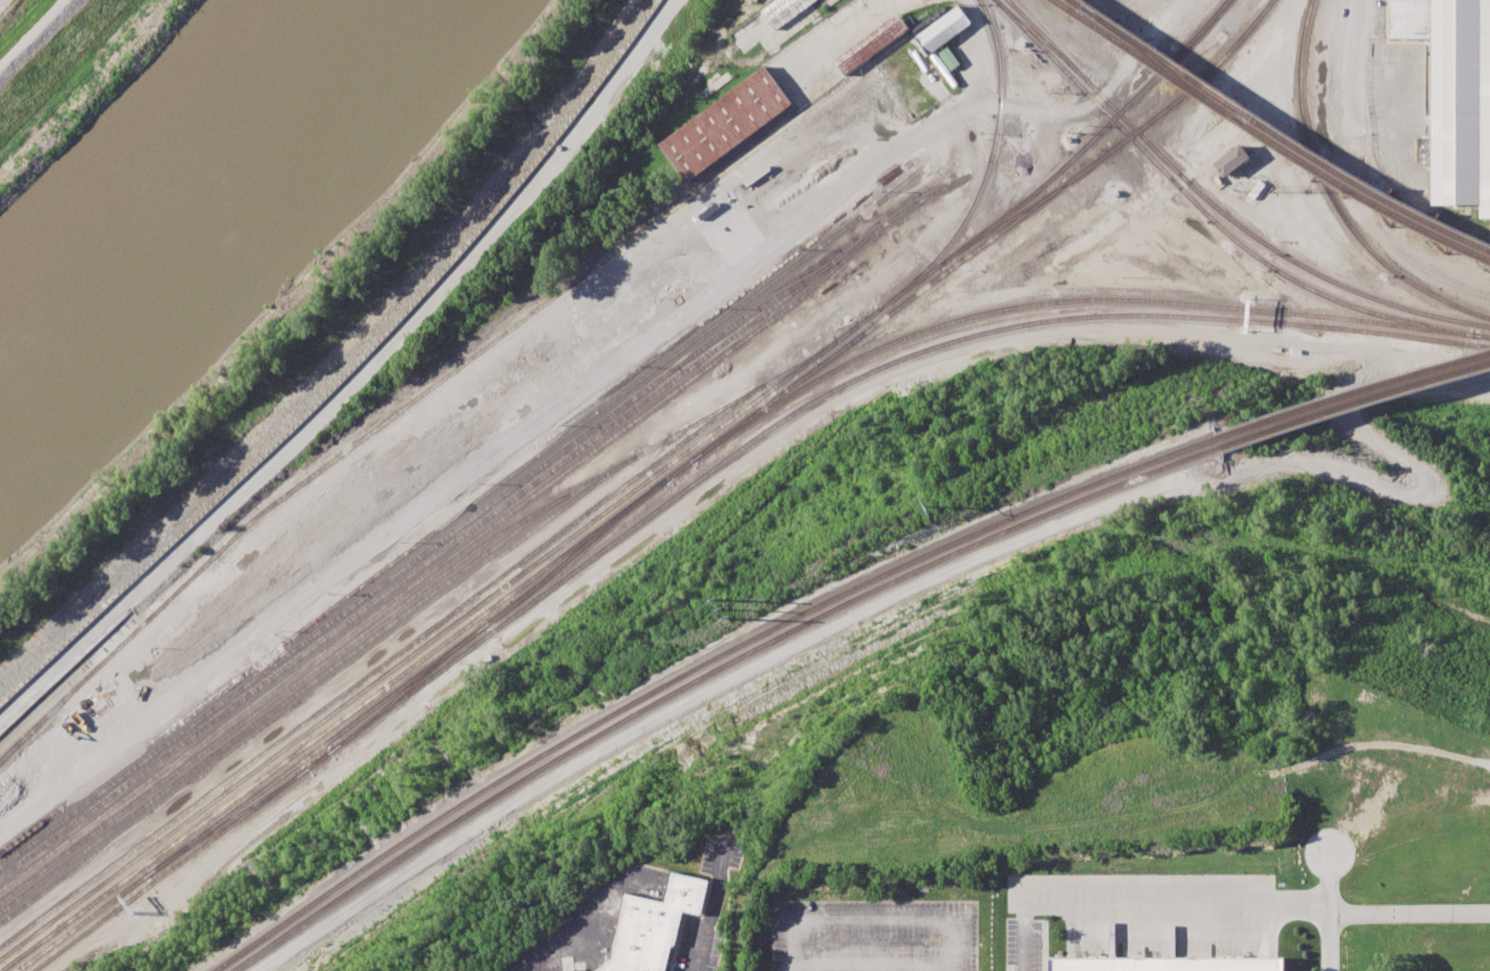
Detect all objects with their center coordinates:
building: (755, 0)
road: (868, 15)
building: (767, 23)
building: (942, 28)
railway: (1205, 28)
road: (30, 32)
railway: (1240, 38)
railway: (1040, 39)
building: (870, 45)
road: (975, 54)
building: (948, 58)
railway: (1165, 67)
road: (1354, 73)
building: (1453, 95)
parking lot: (1399, 113)
road: (1246, 123)
building: (726, 124)
road: (1378, 125)
road: (1402, 125)
railway: (1134, 129)
railway: (1137, 130)
railway: (1127, 134)
railway: (1275, 134)
railway: (1266, 139)
railway: (1250, 157)
building: (1230, 160)
railway: (986, 173)
river: (184, 188)
railway: (1119, 194)
railway: (1331, 197)
railway: (1023, 202)
railway: (1004, 222)
road: (741, 274)
railway: (1376, 299)
railway: (1068, 301)
railway: (1368, 311)
railway: (1063, 319)
railway: (877, 320)
railway: (762, 325)
railway: (1486, 336)
railway: (450, 375)
road: (356, 379)
railway: (1352, 393)
railway: (1354, 402)
railway: (678, 469)
road: (680, 502)
power tower: (929, 506)
railway: (458, 513)
railway: (585, 537)
railway: (577, 551)
railway: (440, 553)
railway: (412, 562)
road: (954, 570)
power tower: (722, 608)
railway: (503, 622)
railway: (415, 638)
railway: (377, 644)
railway: (425, 644)
railway: (696, 669)
railway: (707, 673)
railway: (313, 679)
railway: (279, 681)
railway: (408, 687)
railway: (281, 691)
railway: (334, 724)
railway: (315, 750)
railway: (317, 760)
railway: (225, 823)
parking lot: (724, 856)
railway: (169, 869)
road: (1140, 902)
road: (707, 907)
railway: (83, 911)
road: (1326, 911)
road: (1408, 911)
road: (584, 913)
road: (874, 919)
railway: (80, 923)
building: (649, 928)
parking lot: (875, 929)
parking lot: (685, 944)
parking lot: (718, 948)
building: (1165, 964)
road: (874, 965)

